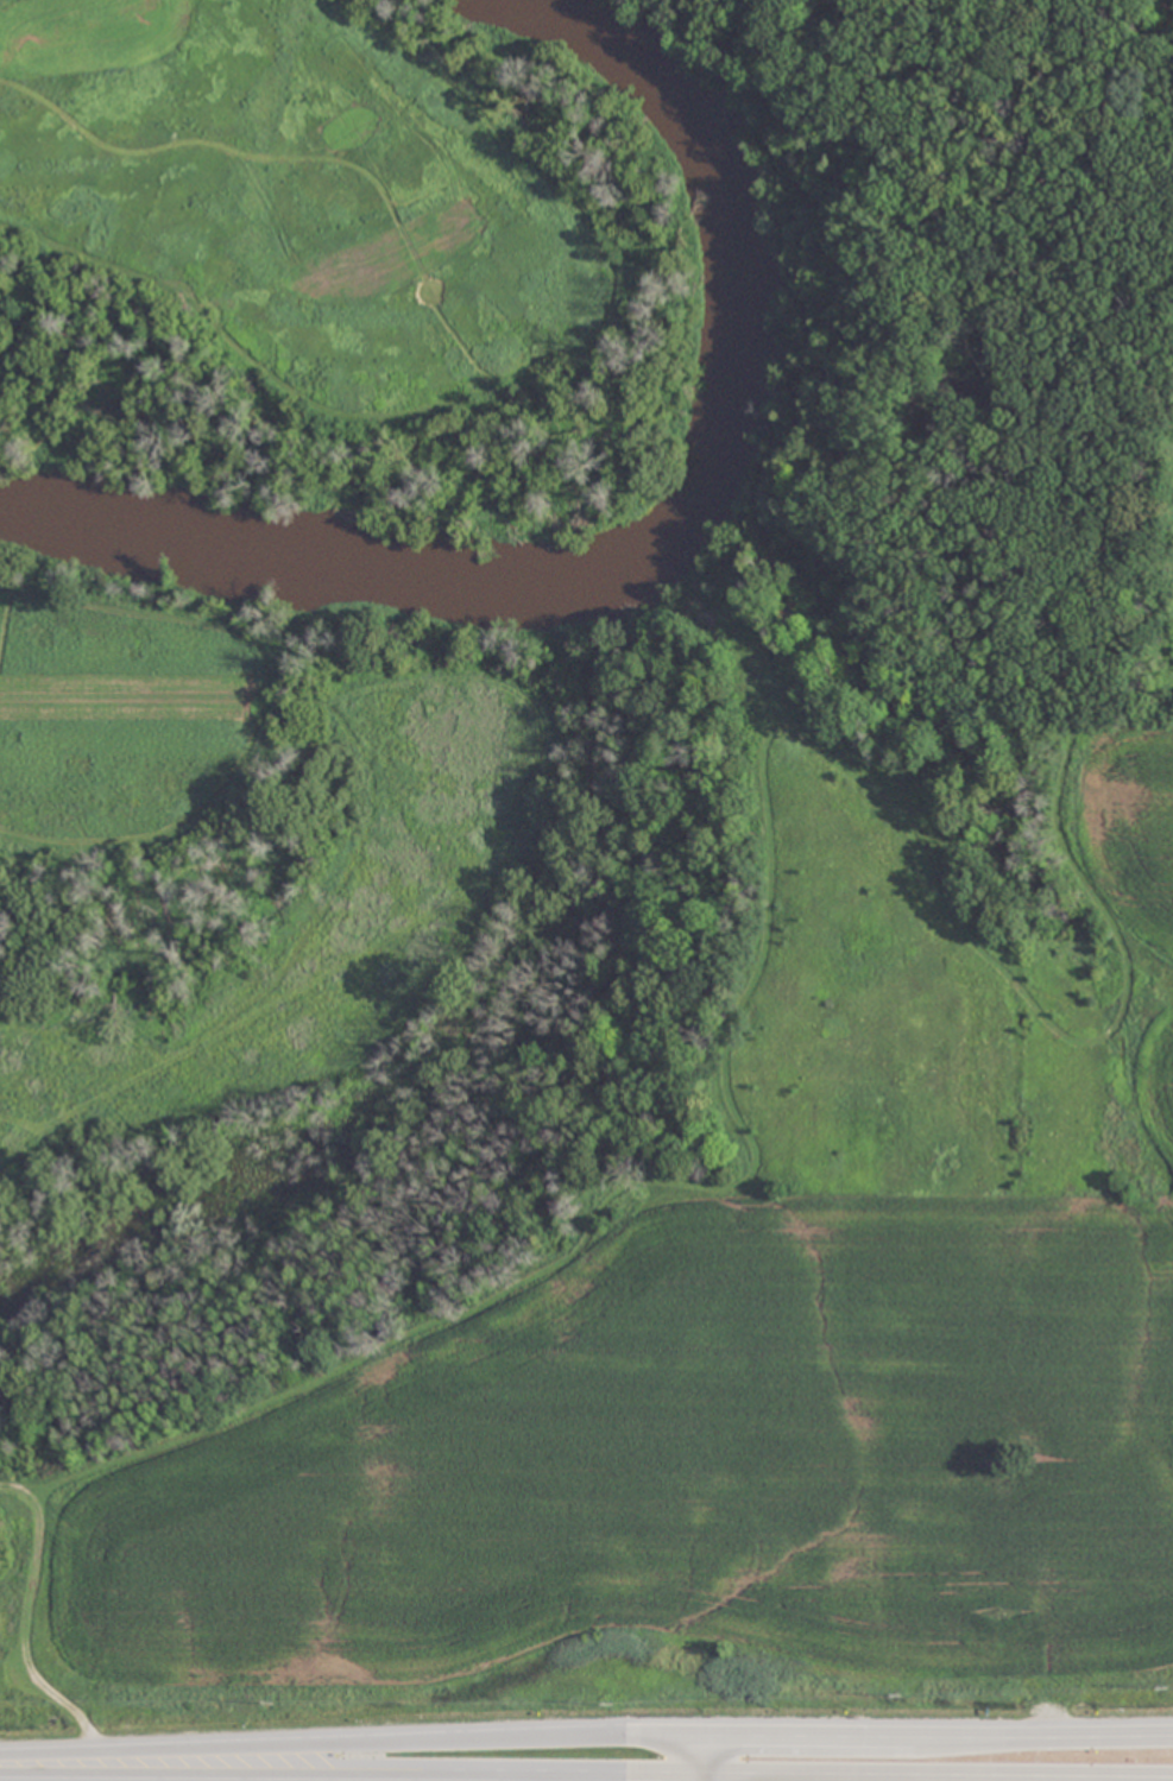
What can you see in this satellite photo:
river: (658, 555)
park: (273, 562)
crop: (744, 1372)
road: (586, 1737)
road: (713, 1754)
road: (357, 1773)
road: (942, 1774)
road: (713, 1777)
crop: (36, 1780)
crop: (270, 1780)

